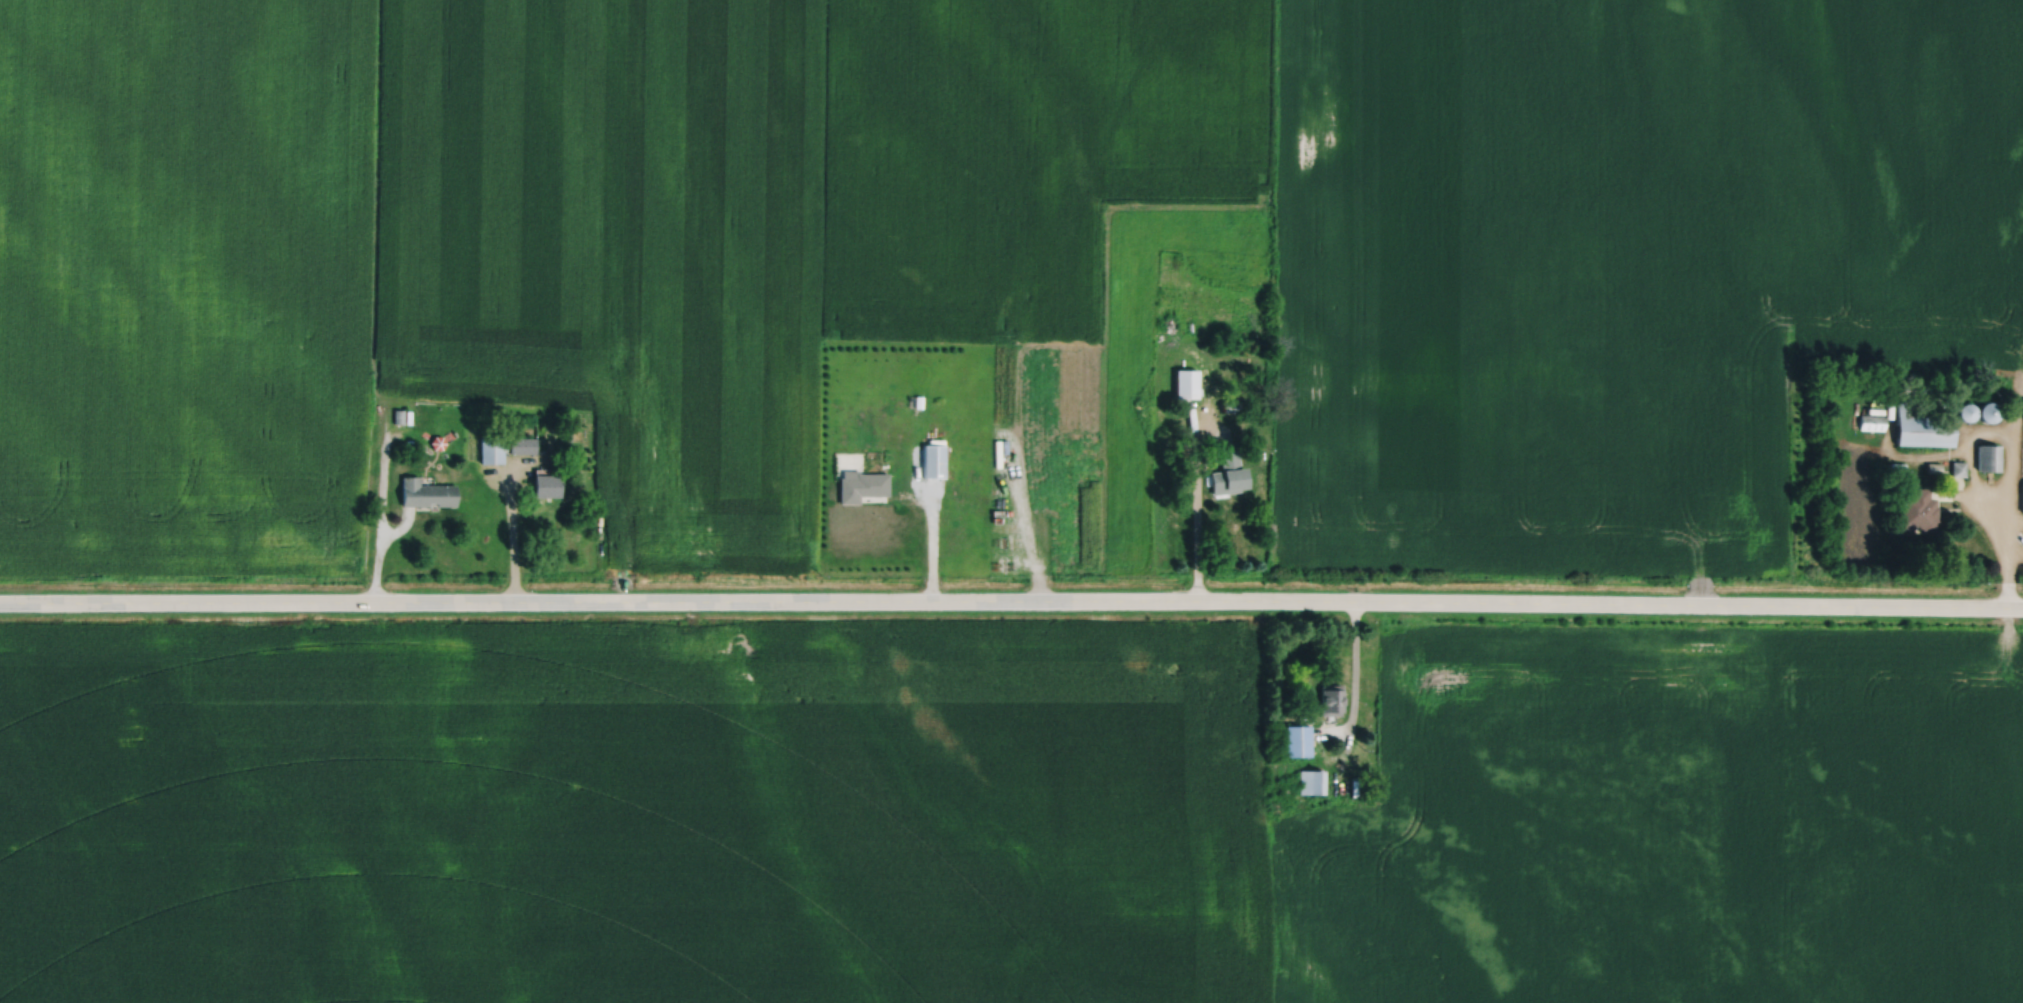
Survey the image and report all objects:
building: (1186, 384)
building: (1230, 407)
building: (1875, 411)
building: (1966, 412)
building: (1987, 412)
building: (397, 417)
building: (407, 418)
building: (1872, 423)
building: (1922, 428)
building: (522, 446)
building: (1003, 446)
building: (490, 450)
building: (996, 453)
road: (1924, 456)
building: (1988, 457)
building: (933, 458)
building: (1934, 468)
building: (1958, 468)
building: (1895, 469)
building: (1227, 472)
road: (1971, 475)
building: (546, 484)
building: (860, 484)
road: (2008, 489)
building: (424, 493)
building: (2017, 493)
road: (1195, 498)
building: (2022, 502)
road: (382, 506)
building: (1915, 508)
road: (1021, 521)
road: (400, 529)
road: (930, 530)
road: (512, 533)
road: (1011, 600)
road: (1355, 681)
building: (1330, 699)
building: (1296, 740)
building: (1310, 782)

